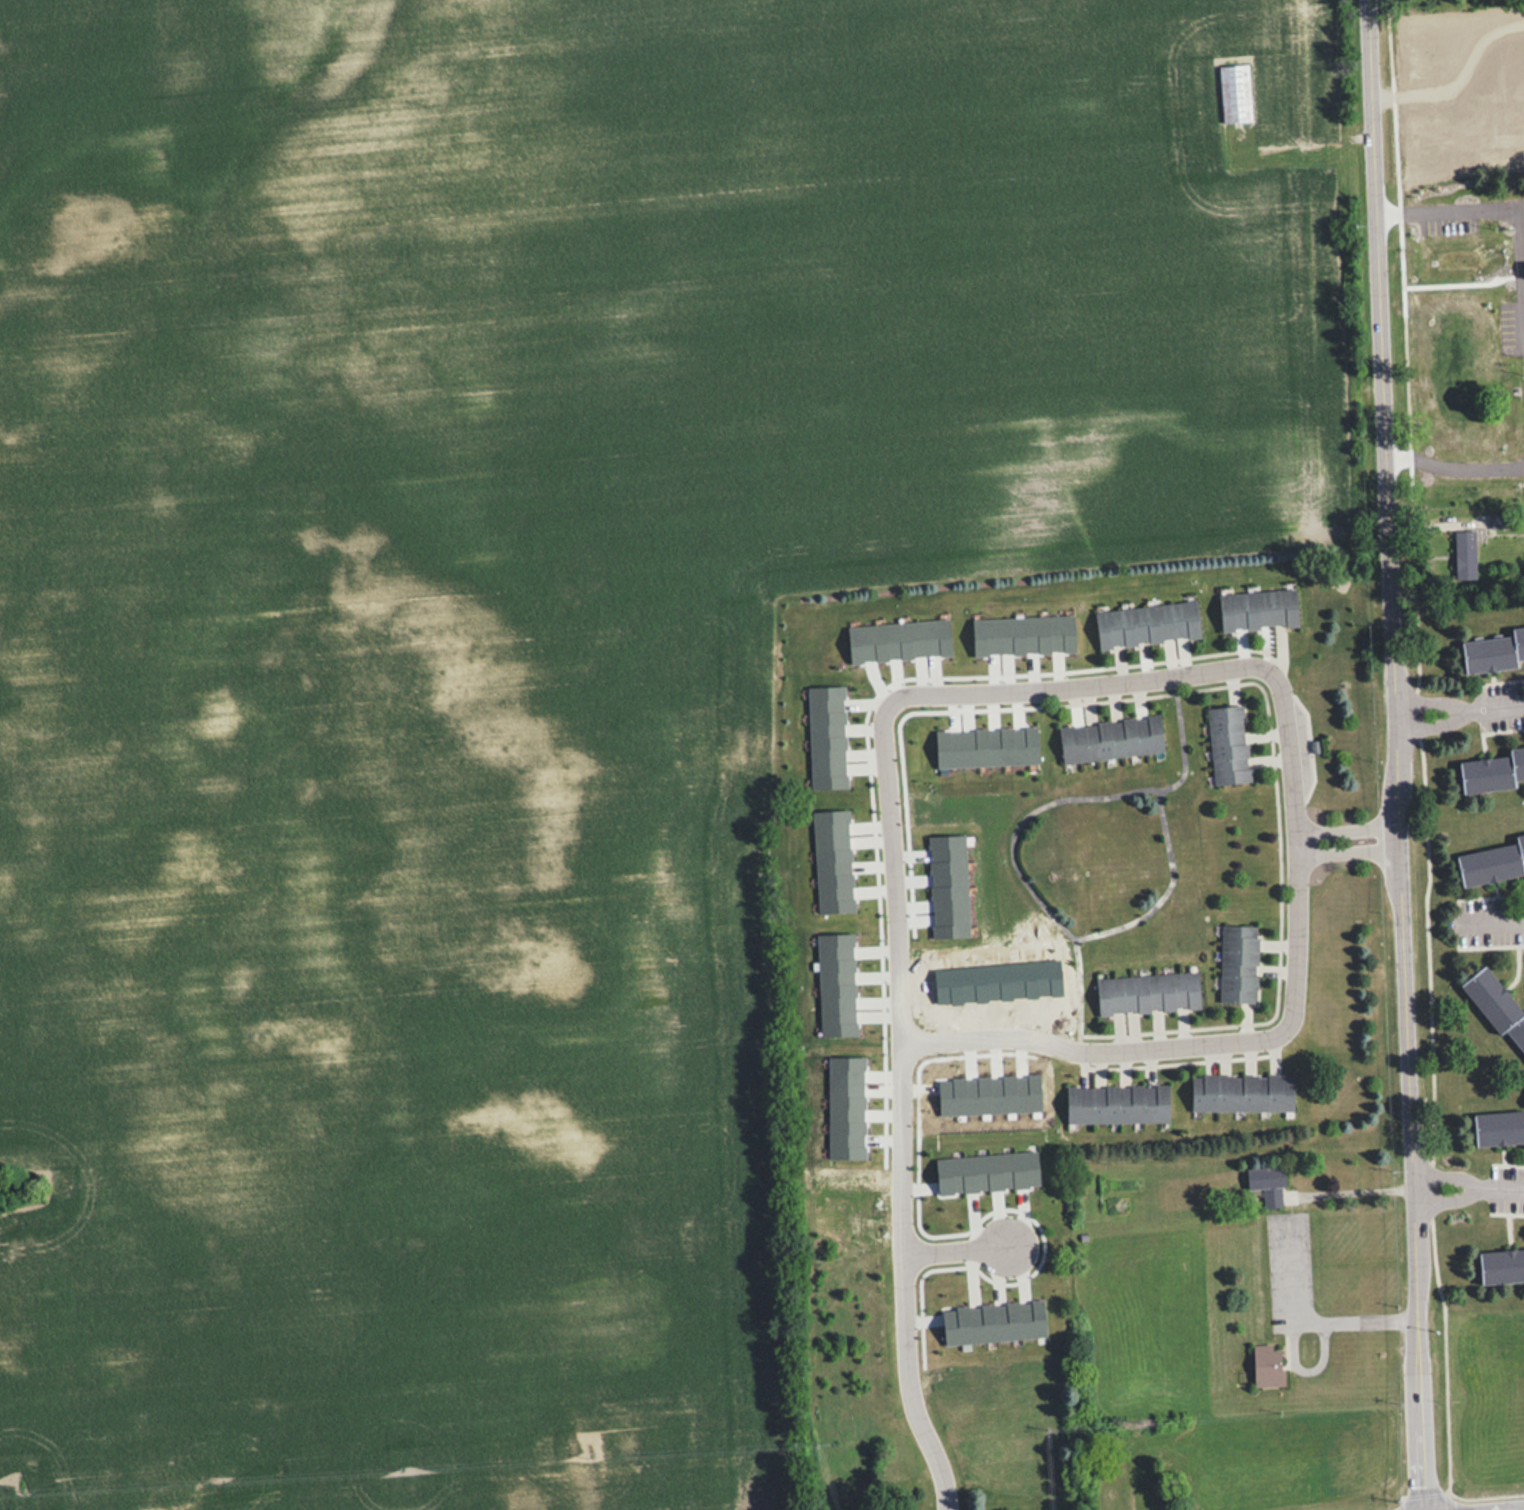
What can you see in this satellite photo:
building: (1233, 93)
road: (1452, 208)
building: (1506, 244)
building: (1479, 282)
road: (1453, 464)
building: (1464, 554)
building: (1257, 608)
building: (1146, 623)
building: (1494, 650)
road: (1439, 701)
road: (1503, 704)
road: (1441, 724)
building: (1110, 737)
building: (1227, 743)
road: (1397, 754)
building: (1492, 769)
road: (886, 823)
road: (1346, 829)
road: (1347, 852)
building: (1492, 861)
road: (1492, 921)
building: (1237, 962)
building: (1147, 992)
building: (1498, 1006)
road: (1182, 1046)
building: (1240, 1092)
building: (1116, 1103)
building: (1498, 1127)
road: (1453, 1175)
building: (1267, 1184)
road: (1508, 1187)
road: (1454, 1200)
road: (955, 1250)
building: (1502, 1266)
building: (1267, 1365)
building: (1106, 1500)

